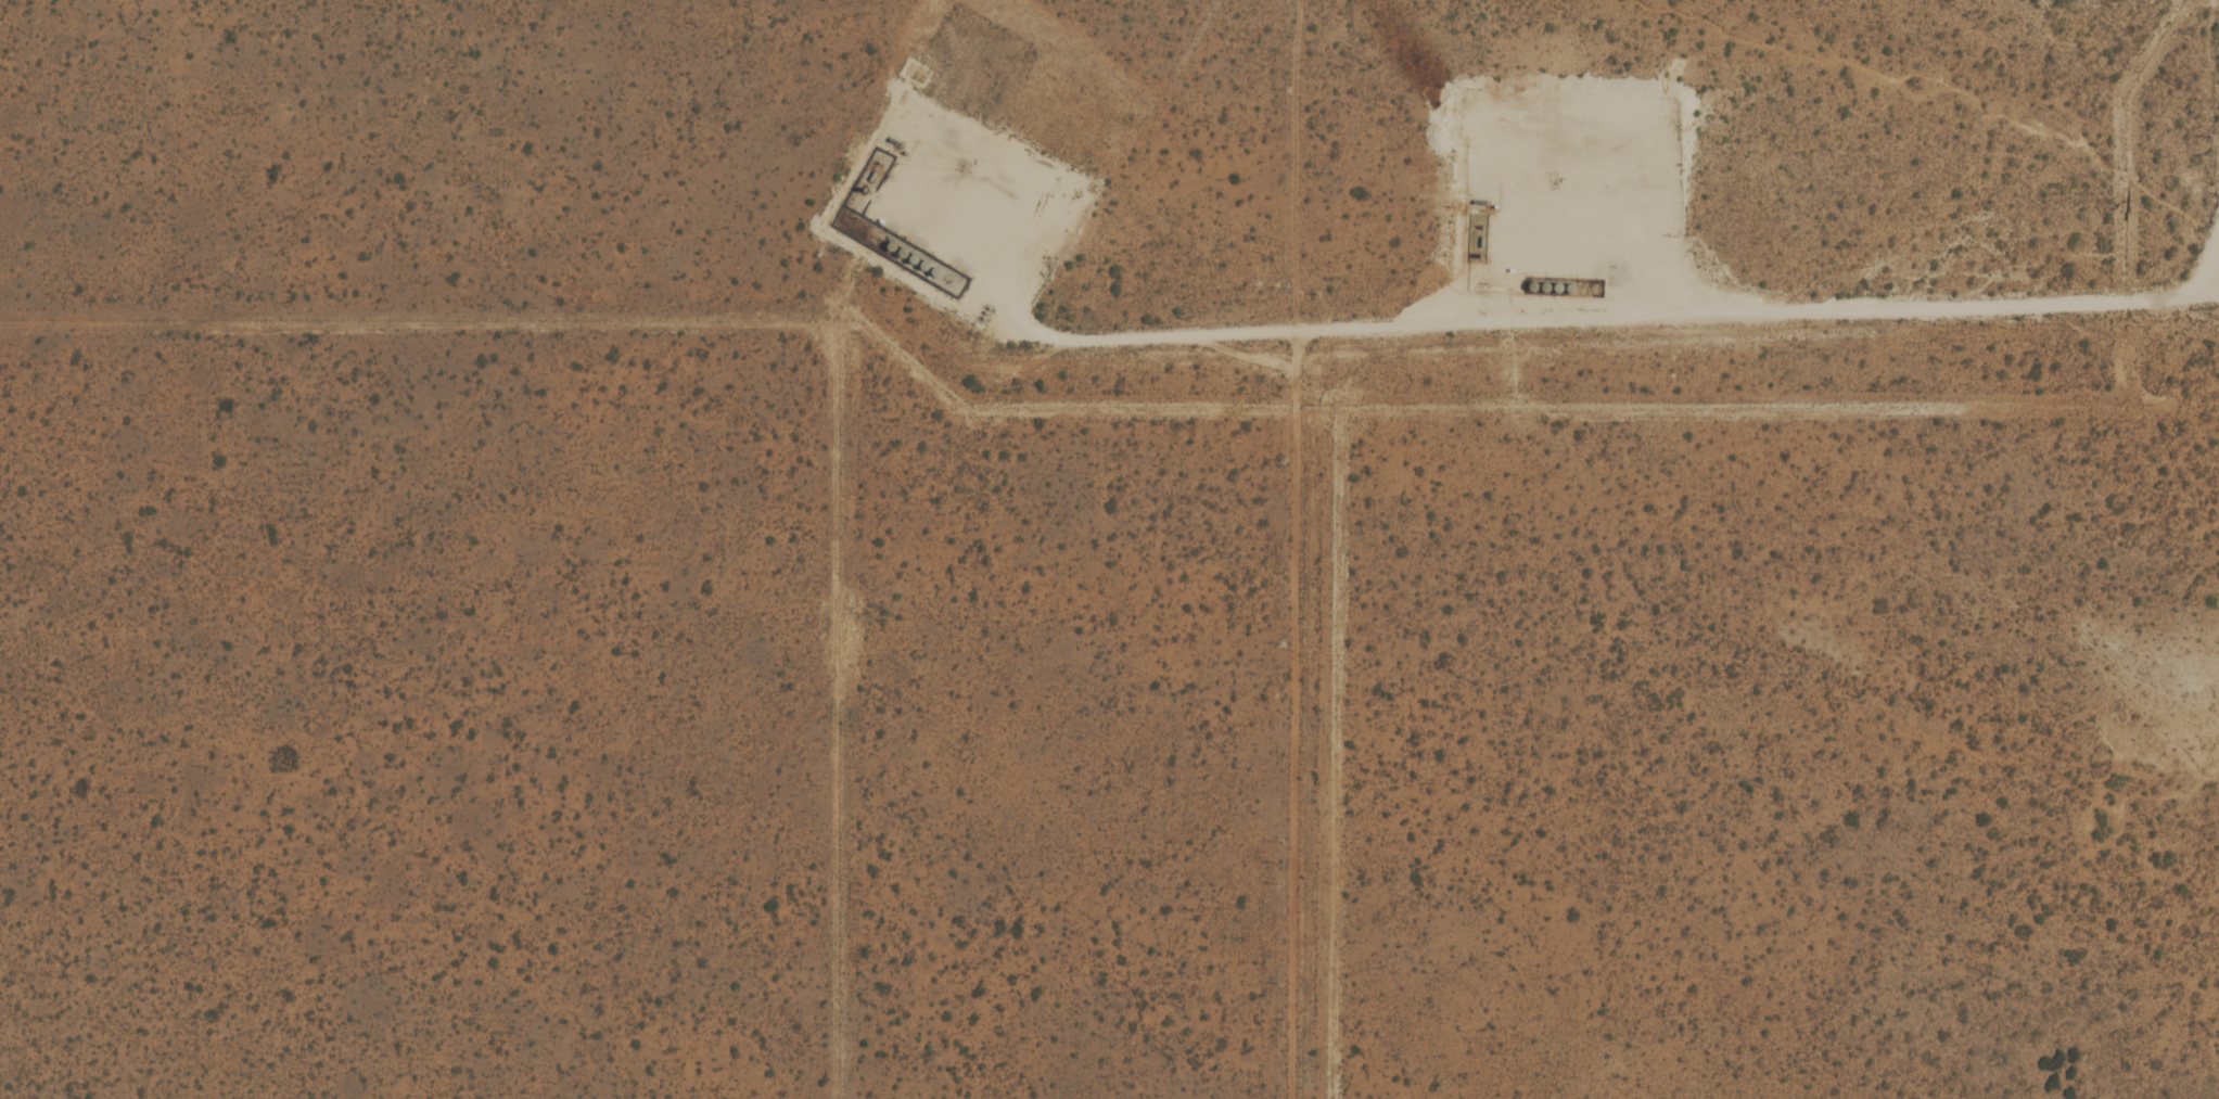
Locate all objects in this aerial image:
road: (1576, 204)
road: (964, 217)
road: (1623, 309)

